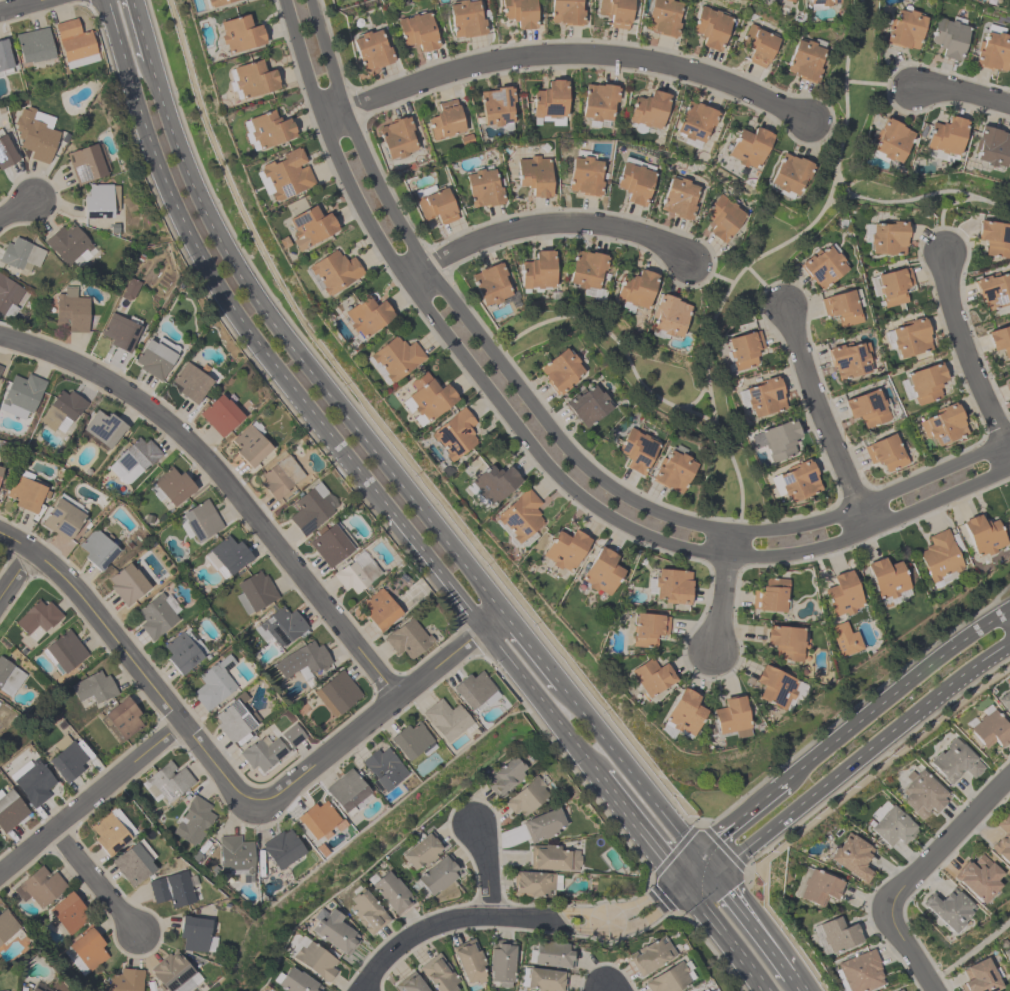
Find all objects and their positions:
building: (788, 0)
building: (217, 2)
building: (823, 2)
road: (24, 6)
building: (566, 11)
building: (616, 12)
building: (519, 13)
building: (663, 17)
building: (466, 18)
building: (710, 27)
building: (904, 29)
road: (140, 30)
building: (417, 31)
building: (240, 33)
building: (948, 37)
building: (74, 43)
building: (758, 44)
building: (33, 45)
building: (371, 49)
building: (993, 51)
road: (563, 54)
building: (4, 58)
building: (805, 60)
building: (253, 79)
road: (877, 85)
road: (959, 93)
building: (549, 99)
building: (598, 102)
building: (497, 105)
building: (648, 109)
building: (445, 121)
building: (695, 121)
road: (824, 121)
building: (269, 129)
building: (35, 133)
building: (945, 136)
building: (397, 137)
building: (890, 140)
building: (991, 146)
building: (748, 147)
building: (6, 152)
building: (87, 162)
building: (287, 174)
building: (789, 174)
building: (534, 175)
building: (585, 176)
building: (634, 182)
building: (482, 188)
building: (679, 198)
road: (917, 199)
building: (99, 200)
building: (435, 204)
road: (14, 208)
road: (942, 213)
building: (721, 217)
road: (544, 223)
building: (310, 227)
building: (888, 238)
building: (994, 238)
road: (191, 241)
building: (67, 243)
building: (20, 253)
road: (759, 258)
building: (822, 266)
building: (586, 269)
building: (537, 270)
building: (334, 271)
road: (710, 272)
building: (490, 283)
building: (893, 285)
road: (766, 286)
building: (128, 288)
building: (635, 288)
building: (993, 290)
building: (8, 296)
building: (841, 307)
building: (70, 310)
building: (367, 315)
building: (668, 315)
building: (120, 331)
road: (614, 338)
building: (910, 338)
building: (1000, 340)
building: (743, 349)
road: (296, 353)
road: (967, 354)
building: (155, 357)
building: (396, 358)
building: (849, 359)
building: (0, 368)
building: (561, 371)
building: (190, 382)
building: (925, 383)
building: (1009, 383)
building: (21, 395)
building: (763, 396)
building: (426, 398)
road: (695, 399)
building: (587, 405)
building: (866, 407)
building: (62, 409)
building: (220, 415)
road: (822, 419)
building: (942, 424)
building: (101, 430)
road: (390, 430)
building: (454, 433)
road: (555, 433)
building: (776, 439)
building: (250, 445)
building: (636, 450)
road: (535, 452)
building: (885, 452)
building: (137, 455)
building: (0, 468)
building: (673, 471)
building: (281, 476)
building: (795, 481)
road: (223, 484)
building: (492, 484)
building: (172, 486)
building: (25, 491)
building: (310, 509)
building: (520, 515)
building: (62, 519)
building: (201, 520)
building: (982, 534)
road: (412, 539)
building: (330, 545)
building: (97, 549)
building: (565, 549)
building: (228, 556)
building: (939, 556)
building: (601, 572)
road: (15, 575)
building: (356, 575)
building: (885, 578)
building: (127, 584)
building: (672, 586)
building: (254, 591)
road: (720, 591)
building: (842, 594)
building: (770, 595)
building: (379, 609)
building: (155, 617)
building: (36, 619)
building: (280, 626)
building: (647, 629)
building: (407, 638)
building: (843, 639)
building: (784, 642)
road: (529, 648)
building: (183, 650)
building: (64, 651)
building: (302, 659)
building: (651, 676)
building: (9, 677)
building: (214, 683)
building: (93, 687)
building: (774, 687)
building: (474, 690)
road: (894, 692)
building: (336, 693)
building: (1005, 701)
road: (540, 702)
building: (0, 703)
building: (683, 712)
building: (122, 717)
building: (731, 717)
building: (446, 720)
building: (234, 721)
building: (990, 730)
building: (411, 741)
building: (262, 753)
road: (860, 757)
building: (65, 758)
building: (955, 761)
building: (383, 767)
building: (505, 777)
road: (634, 778)
building: (31, 781)
building: (168, 781)
road: (230, 783)
building: (347, 792)
building: (922, 795)
road: (89, 796)
building: (526, 797)
building: (9, 810)
road: (739, 817)
building: (319, 820)
building: (193, 821)
building: (890, 824)
building: (543, 825)
road: (642, 830)
building: (111, 831)
road: (357, 833)
road: (946, 839)
building: (1002, 840)
building: (281, 848)
building: (422, 851)
building: (236, 856)
building: (852, 857)
building: (553, 858)
building: (133, 862)
road: (689, 867)
road: (488, 872)
building: (438, 874)
traffic signals: (713, 875)
building: (977, 877)
road: (95, 879)
road: (699, 879)
building: (532, 884)
traffic signals: (685, 884)
building: (39, 887)
building: (819, 887)
building: (171, 889)
building: (391, 893)
building: (948, 909)
building: (68, 912)
building: (367, 912)
road: (513, 919)
road: (750, 924)
building: (6, 925)
building: (335, 932)
building: (193, 933)
building: (838, 934)
road: (725, 937)
building: (88, 948)
road: (911, 948)
building: (553, 954)
building: (650, 955)
building: (1007, 955)
building: (315, 960)
building: (500, 961)
building: (468, 962)
building: (170, 971)
building: (860, 971)
building: (438, 973)
building: (979, 977)
building: (545, 979)
building: (667, 979)
building: (124, 980)
building: (295, 981)
road: (794, 982)
building: (409, 983)
building: (33, 989)
building: (41, 990)
road: (606, 990)
building: (697, 990)
building: (898, 990)
building: (905, 990)

